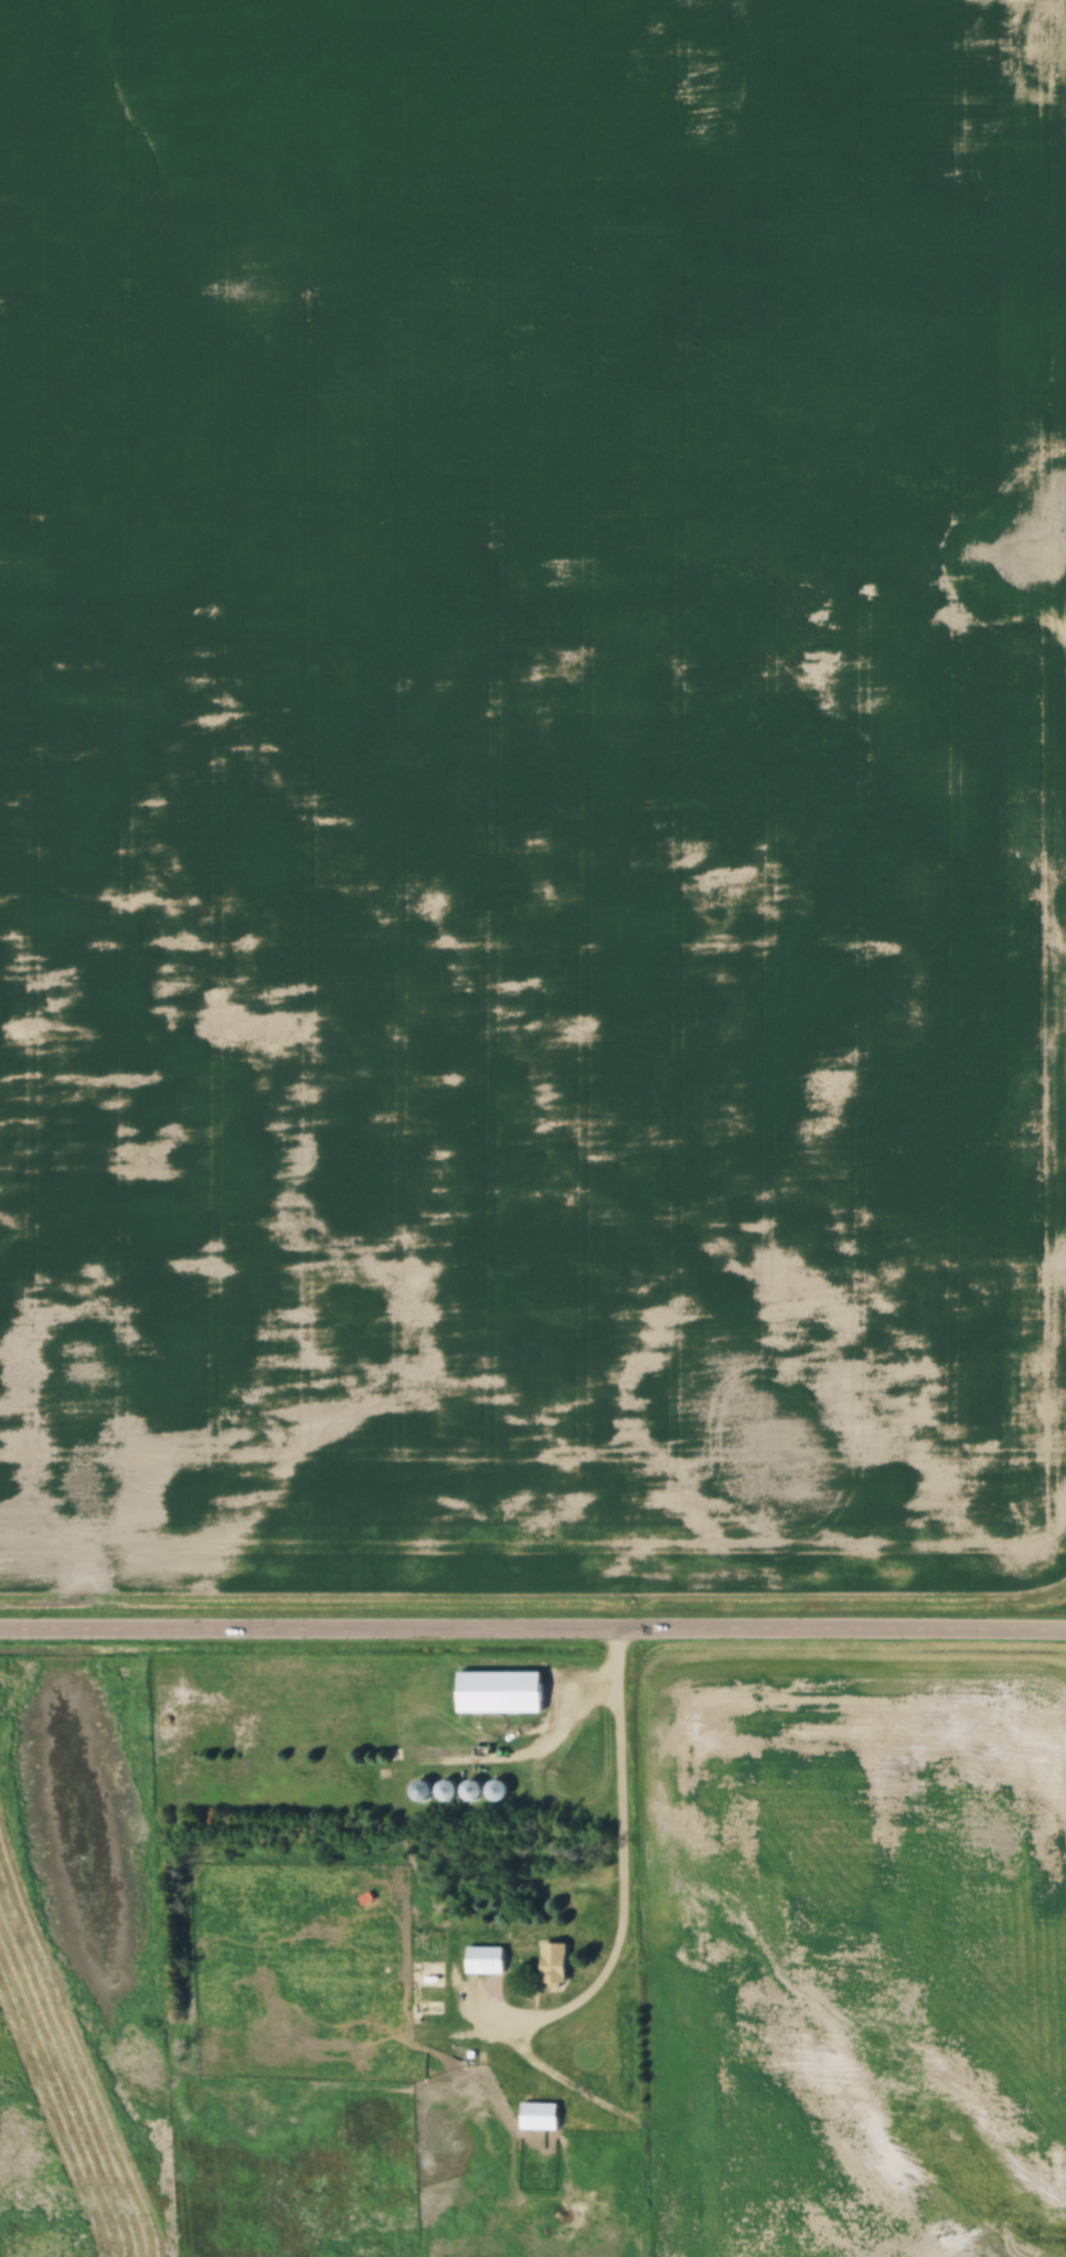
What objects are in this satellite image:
road: (533, 1636)
building: (501, 1694)
building: (424, 1791)
road: (626, 1860)
building: (283, 1883)
building: (487, 1962)
building: (556, 1967)
building: (433, 1995)
building: (625, 1997)
building: (625, 2022)
building: (629, 2079)
building: (629, 2098)
building: (540, 2118)
building: (691, 2250)

